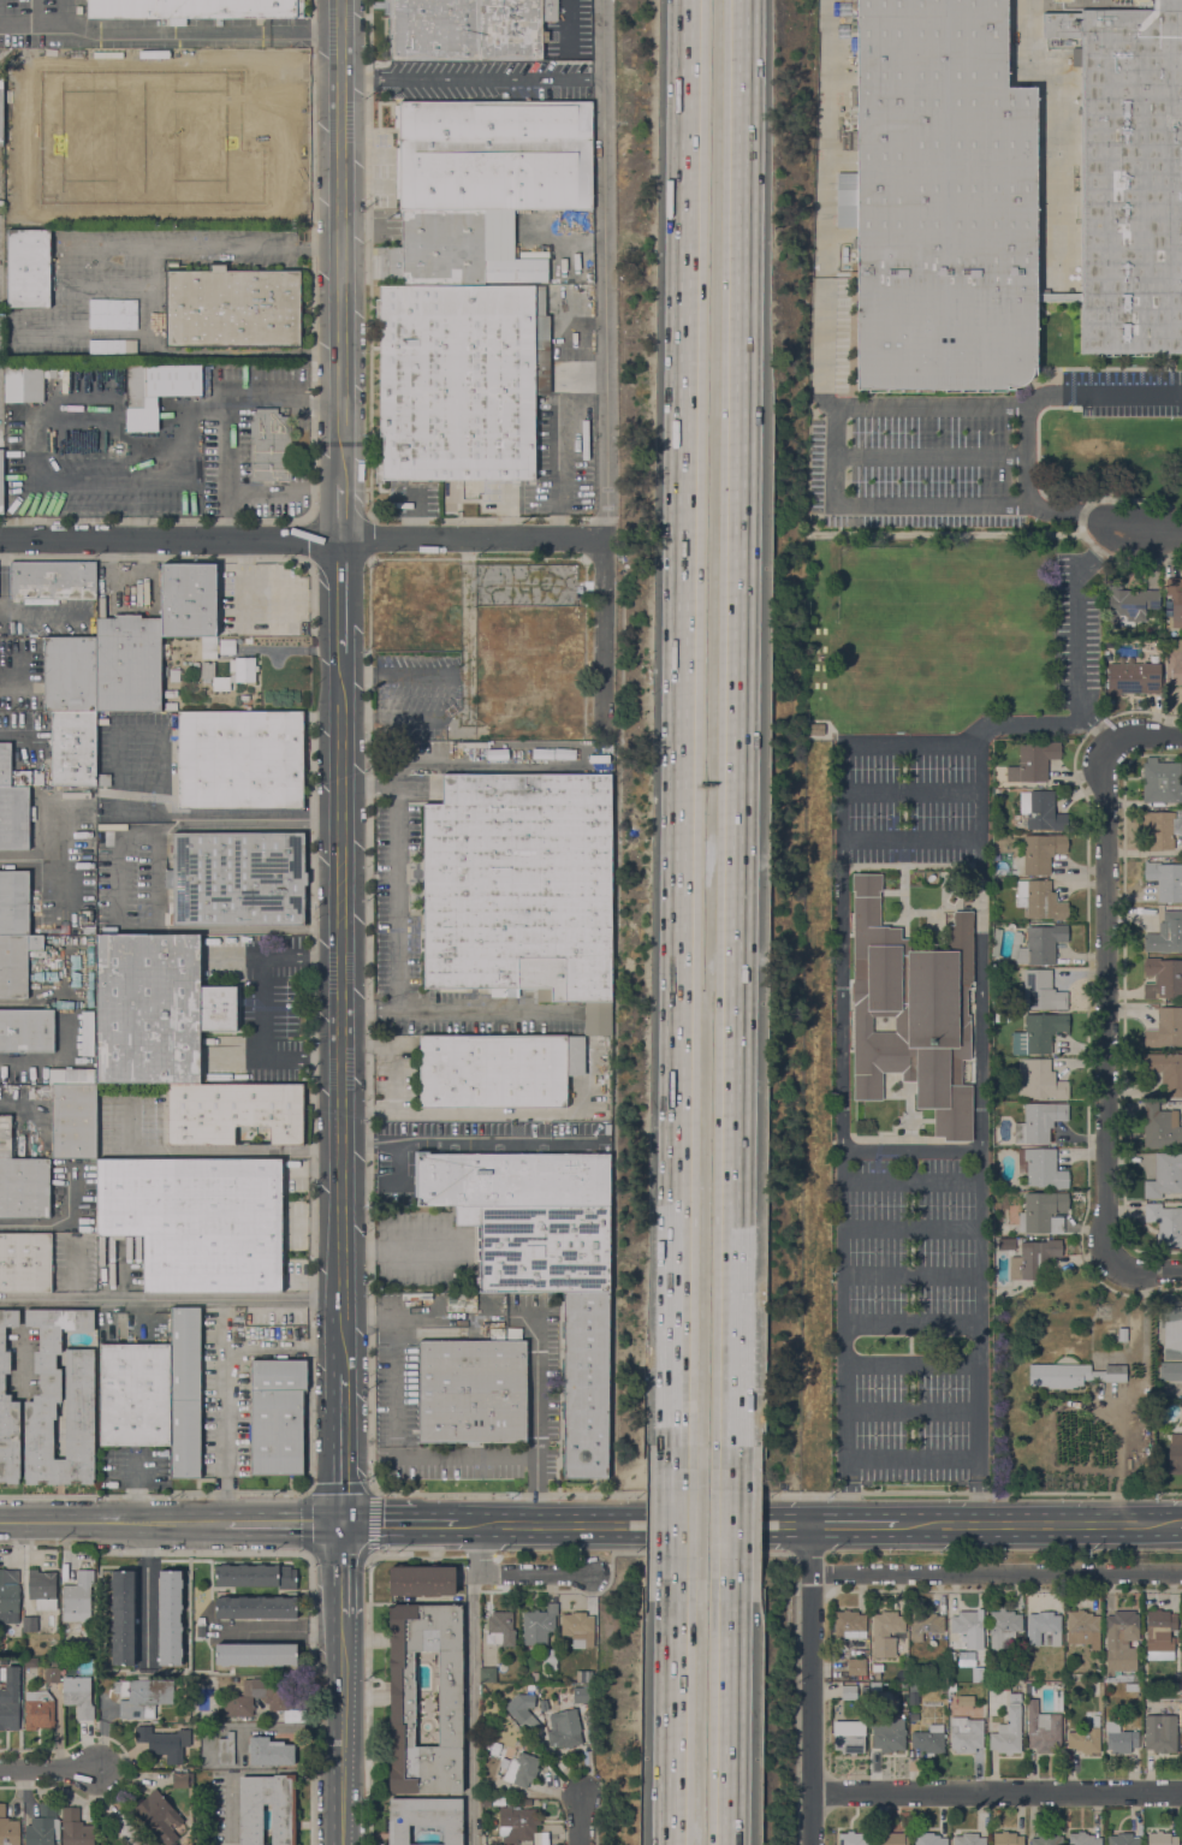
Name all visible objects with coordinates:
building: (1062, 0)
building: (1139, 0)
building: (195, 8)
road: (37, 12)
road: (65, 17)
road: (568, 18)
building: (468, 29)
road: (170, 34)
road: (474, 82)
building: (1, 112)
road: (826, 123)
road: (25, 136)
building: (179, 136)
building: (493, 155)
building: (1006, 192)
building: (190, 216)
road: (341, 242)
building: (451, 251)
building: (28, 268)
road: (608, 269)
road: (64, 298)
building: (232, 307)
road: (35, 327)
road: (827, 349)
building: (172, 380)
building: (459, 380)
building: (23, 381)
building: (139, 401)
road: (238, 402)
road: (831, 425)
building: (269, 445)
road: (1027, 453)
road: (153, 474)
building: (1, 479)
road: (265, 492)
road: (341, 512)
road: (1152, 539)
road: (305, 541)
building: (445, 573)
building: (52, 582)
building: (405, 583)
road: (341, 597)
building: (1175, 599)
building: (188, 600)
building: (457, 600)
building: (430, 601)
building: (442, 601)
building: (1129, 605)
building: (445, 616)
building: (405, 627)
building: (537, 627)
building: (489, 628)
road: (607, 636)
road: (1080, 639)
building: (248, 640)
building: (227, 646)
building: (165, 652)
building: (129, 663)
building: (242, 664)
building: (195, 665)
building: (497, 666)
building: (1174, 668)
building: (539, 671)
building: (70, 675)
building: (174, 675)
building: (1133, 678)
road: (13, 688)
building: (170, 693)
building: (171, 706)
building: (497, 706)
building: (539, 716)
building: (815, 729)
road: (681, 734)
road: (736, 734)
road: (341, 738)
road: (1146, 738)
road: (940, 742)
building: (73, 748)
building: (599, 758)
building: (240, 760)
building: (1033, 761)
building: (5, 764)
building: (103, 778)
building: (1162, 782)
building: (1041, 811)
road: (123, 813)
building: (14, 815)
road: (173, 824)
building: (1162, 829)
building: (1039, 853)
road: (397, 867)
road: (117, 878)
building: (237, 878)
building: (1166, 879)
building: (519, 884)
building: (1040, 900)
building: (13, 901)
building: (84, 915)
building: (89, 929)
road: (194, 929)
building: (1165, 933)
building: (996, 941)
building: (1038, 944)
road: (981, 953)
building: (16, 962)
building: (1163, 978)
building: (1041, 991)
road: (261, 1005)
road: (1109, 1005)
building: (155, 1008)
road: (842, 1008)
road: (459, 1009)
building: (911, 1012)
building: (1002, 1018)
building: (1165, 1028)
building: (26, 1032)
building: (88, 1033)
building: (1038, 1033)
building: (498, 1069)
building: (1166, 1070)
building: (71, 1076)
building: (1039, 1079)
road: (340, 1099)
road: (18, 1103)
building: (233, 1113)
building: (73, 1120)
building: (1039, 1121)
building: (1160, 1127)
road: (467, 1138)
building: (7, 1139)
road: (208, 1150)
building: (1041, 1168)
building: (1165, 1175)
building: (512, 1180)
road: (911, 1180)
building: (24, 1188)
building: (1043, 1212)
building: (197, 1221)
building: (1165, 1223)
road: (397, 1247)
building: (541, 1247)
building: (1034, 1259)
building: (25, 1262)
road: (1145, 1272)
road: (170, 1301)
building: (461, 1304)
building: (504, 1333)
building: (1122, 1334)
building: (1180, 1335)
road: (393, 1354)
building: (1175, 1371)
building: (1071, 1375)
road: (224, 1377)
building: (586, 1384)
road: (1180, 1387)
building: (474, 1389)
building: (185, 1393)
building: (135, 1394)
building: (60, 1401)
building: (8, 1410)
building: (277, 1416)
road: (537, 1420)
building: (1175, 1447)
road: (340, 1448)
road: (1117, 1455)
road: (458, 1457)
building: (1172, 1467)
road: (372, 1489)
road: (112, 1523)
road: (281, 1523)
road: (380, 1523)
road: (449, 1523)
road: (675, 1523)
road: (732, 1523)
road: (854, 1524)
road: (1040, 1524)
road: (642, 1525)
road: (340, 1568)
road: (996, 1571)
road: (509, 1572)
building: (256, 1574)
building: (422, 1580)
building: (42, 1588)
road: (147, 1592)
building: (78, 1595)
building: (8, 1596)
building: (257, 1604)
building: (123, 1616)
building: (171, 1616)
building: (30, 1624)
building: (577, 1624)
building: (849, 1624)
building: (925, 1624)
building: (537, 1626)
building: (968, 1626)
building: (201, 1627)
building: (501, 1627)
building: (1044, 1627)
building: (1083, 1629)
building: (1004, 1630)
building: (1160, 1630)
building: (886, 1632)
building: (1121, 1639)
building: (257, 1655)
building: (550, 1657)
building: (967, 1657)
building: (856, 1666)
building: (877, 1669)
building: (52, 1671)
building: (978, 1673)
building: (487, 1674)
building: (247, 1675)
building: (535, 1675)
building: (1135, 1678)
building: (1018, 1679)
road: (809, 1684)
building: (875, 1685)
building: (952, 1686)
building: (1005, 1686)
building: (1133, 1686)
building: (1032, 1687)
building: (77, 1692)
building: (849, 1692)
building: (580, 1693)
building: (914, 1693)
building: (260, 1695)
building: (142, 1696)
building: (10, 1697)
building: (402, 1697)
building: (966, 1699)
road: (470, 1707)
building: (38, 1709)
building: (523, 1711)
road: (673, 1711)
road: (730, 1711)
building: (565, 1728)
building: (1009, 1728)
building: (1043, 1728)
road: (341, 1730)
building: (967, 1733)
building: (1160, 1733)
building: (849, 1736)
building: (891, 1738)
building: (1119, 1738)
building: (929, 1739)
building: (1086, 1740)
building: (166, 1742)
building: (1181, 1742)
building: (226, 1749)
building: (269, 1751)
road: (49, 1767)
building: (517, 1773)
building: (180, 1780)
road: (996, 1791)
building: (159, 1815)
building: (424, 1817)
road: (577, 1819)
building: (284, 1825)
building: (43, 1827)
building: (521, 1827)
building: (8, 1828)
building: (76, 1828)
building: (129, 1832)
building: (1006, 1838)
building: (1162, 1838)
building: (853, 1839)
building: (892, 1839)
building: (928, 1839)
building: (968, 1839)
building: (1046, 1839)
building: (1083, 1839)
building: (1123, 1839)

